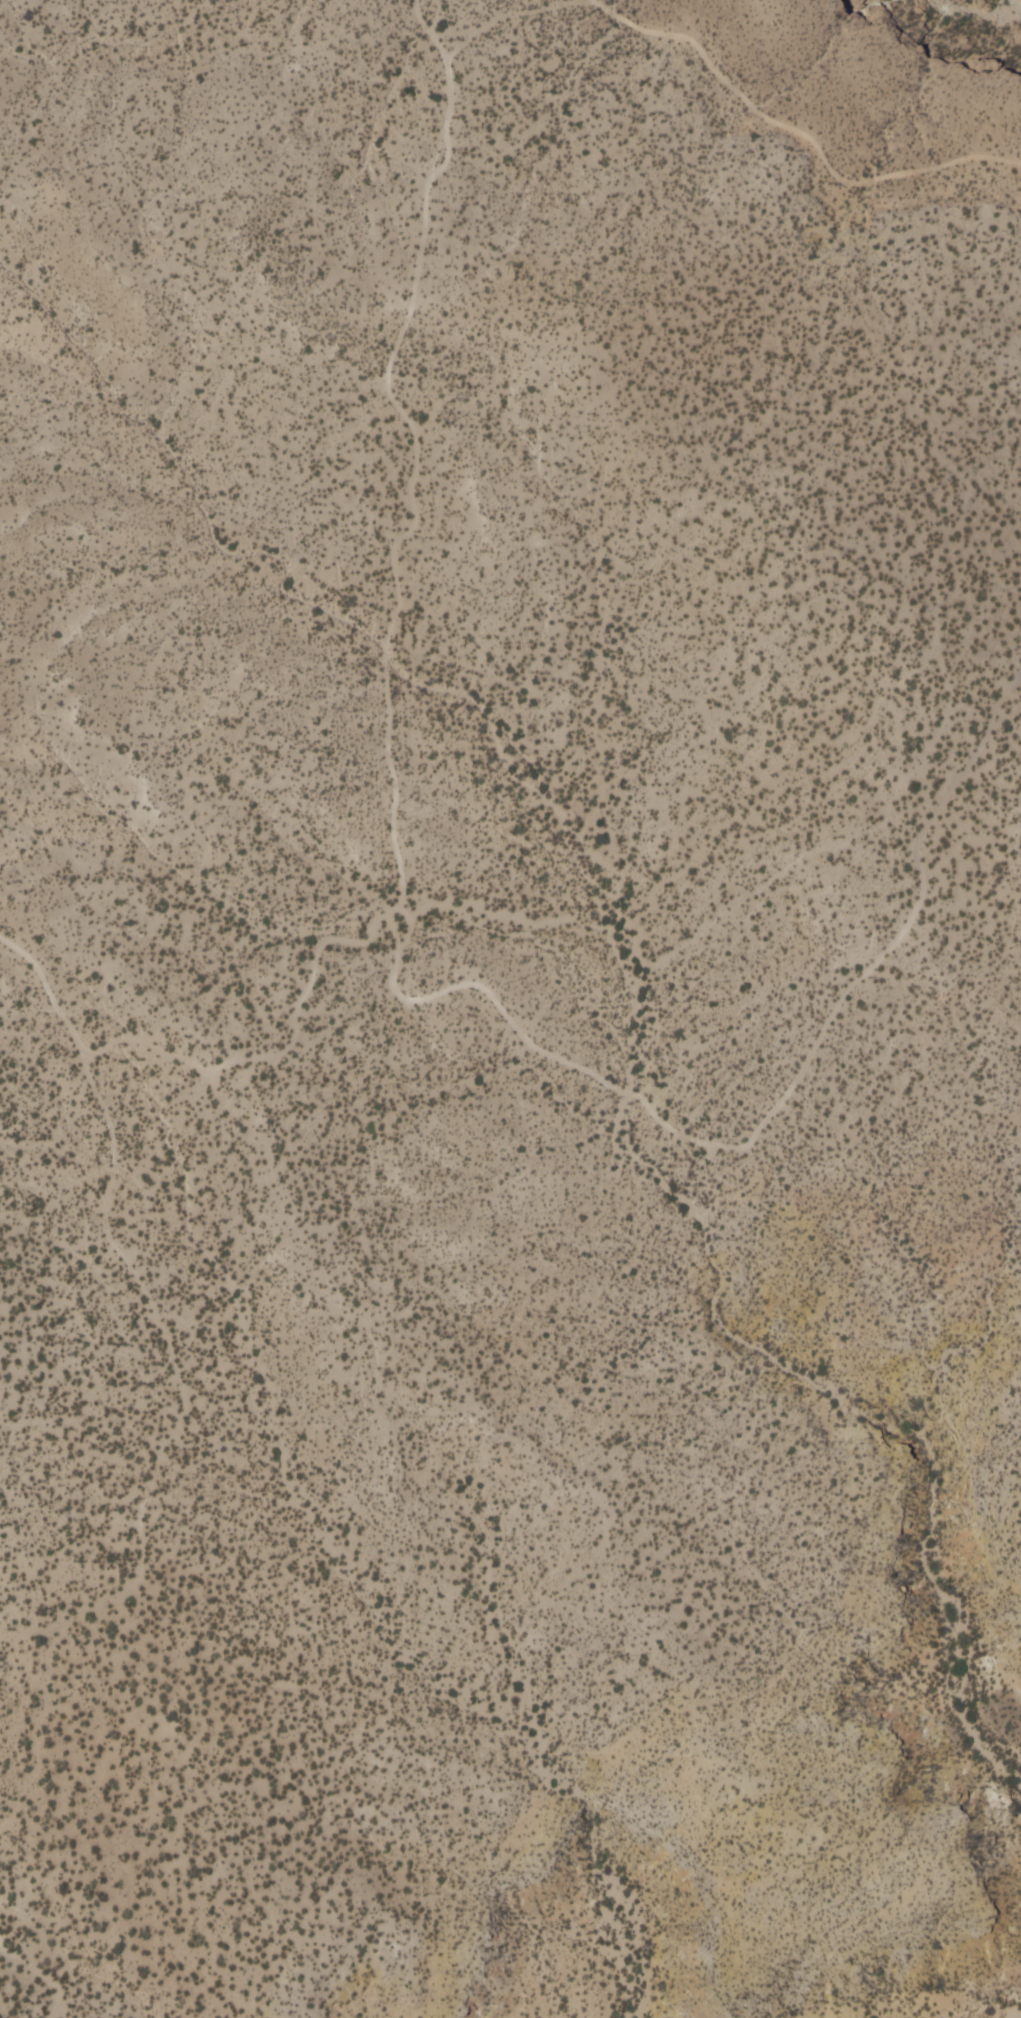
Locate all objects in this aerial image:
road: (505, 14)
road: (795, 131)
road: (412, 452)
road: (890, 797)
road: (601, 1077)
road: (161, 1332)
road: (20, 1720)
road: (30, 1768)
road: (41, 1975)

